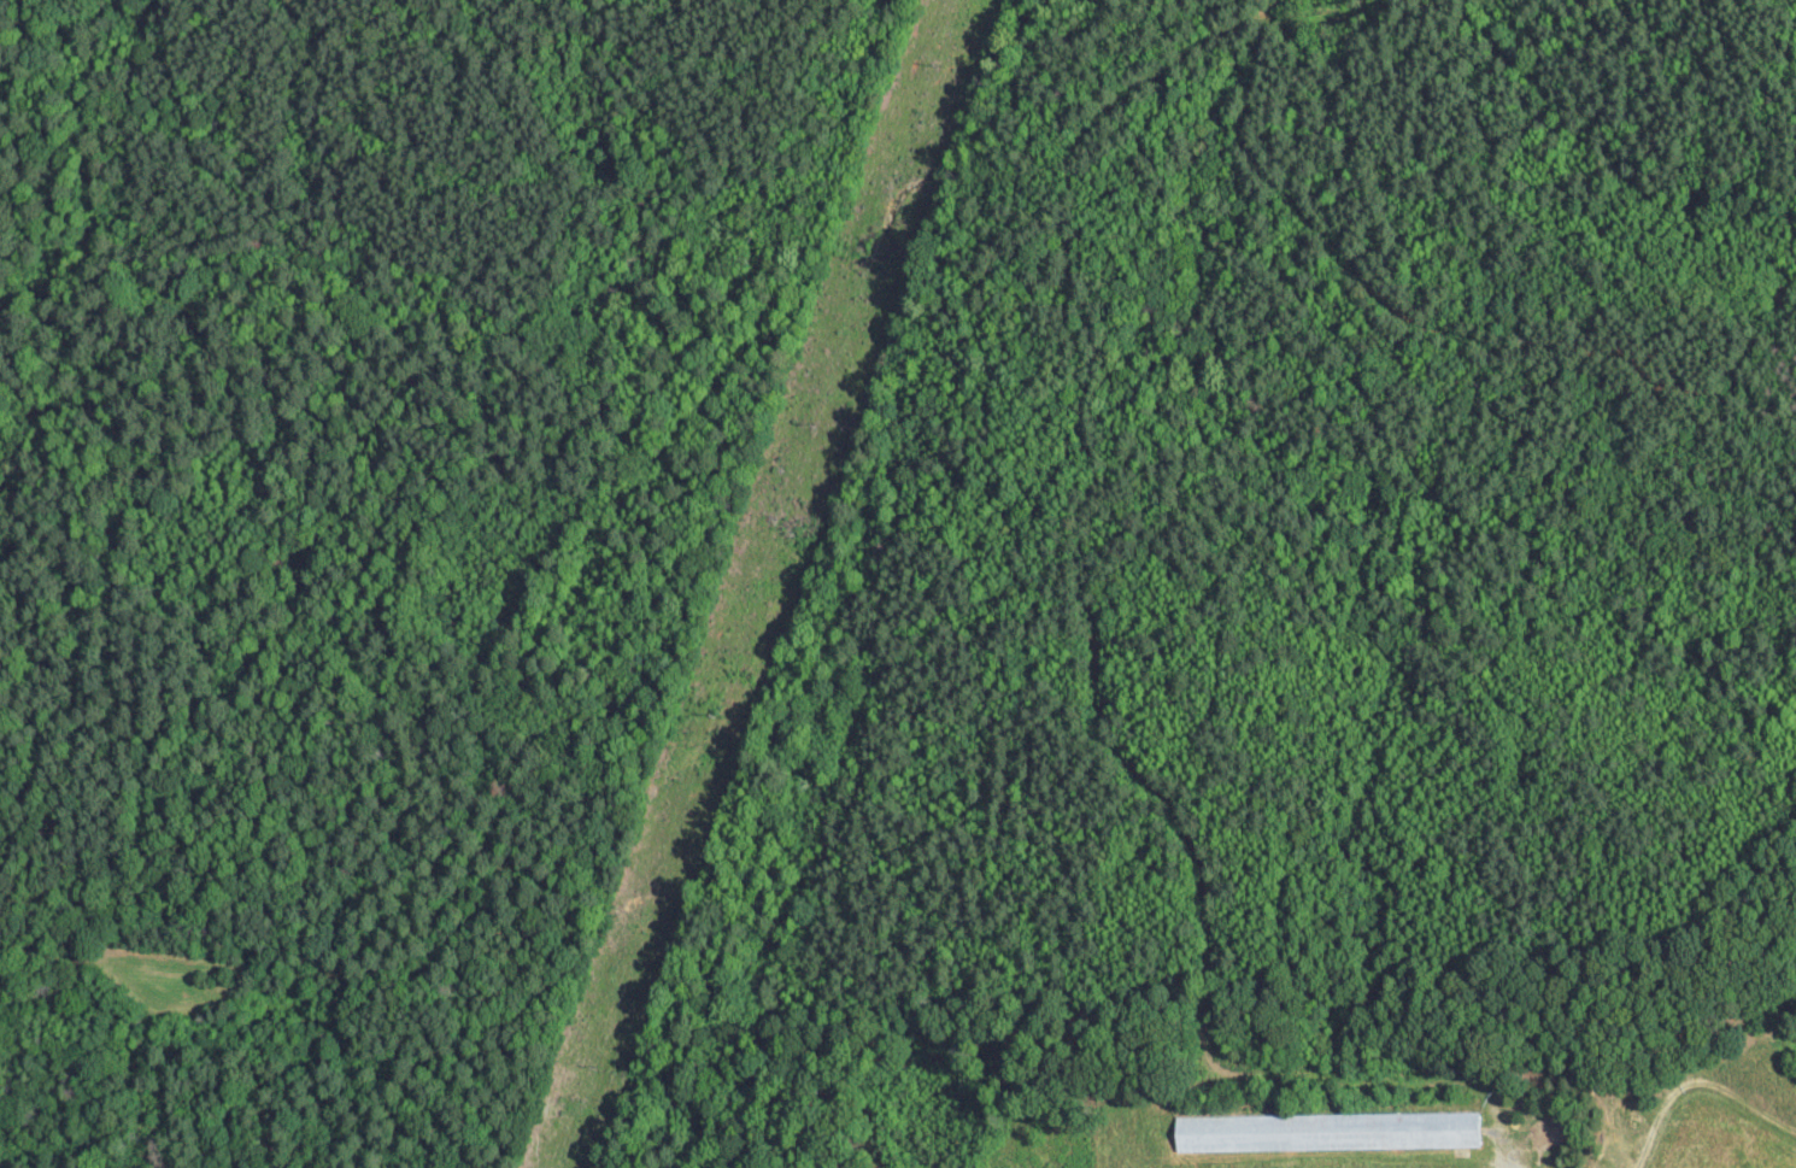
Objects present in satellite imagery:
power tower: (944, 64)
power tower: (821, 421)
power tower: (718, 717)
power tower: (595, 1062)
building: (1199, 1131)
road: (1503, 1163)

